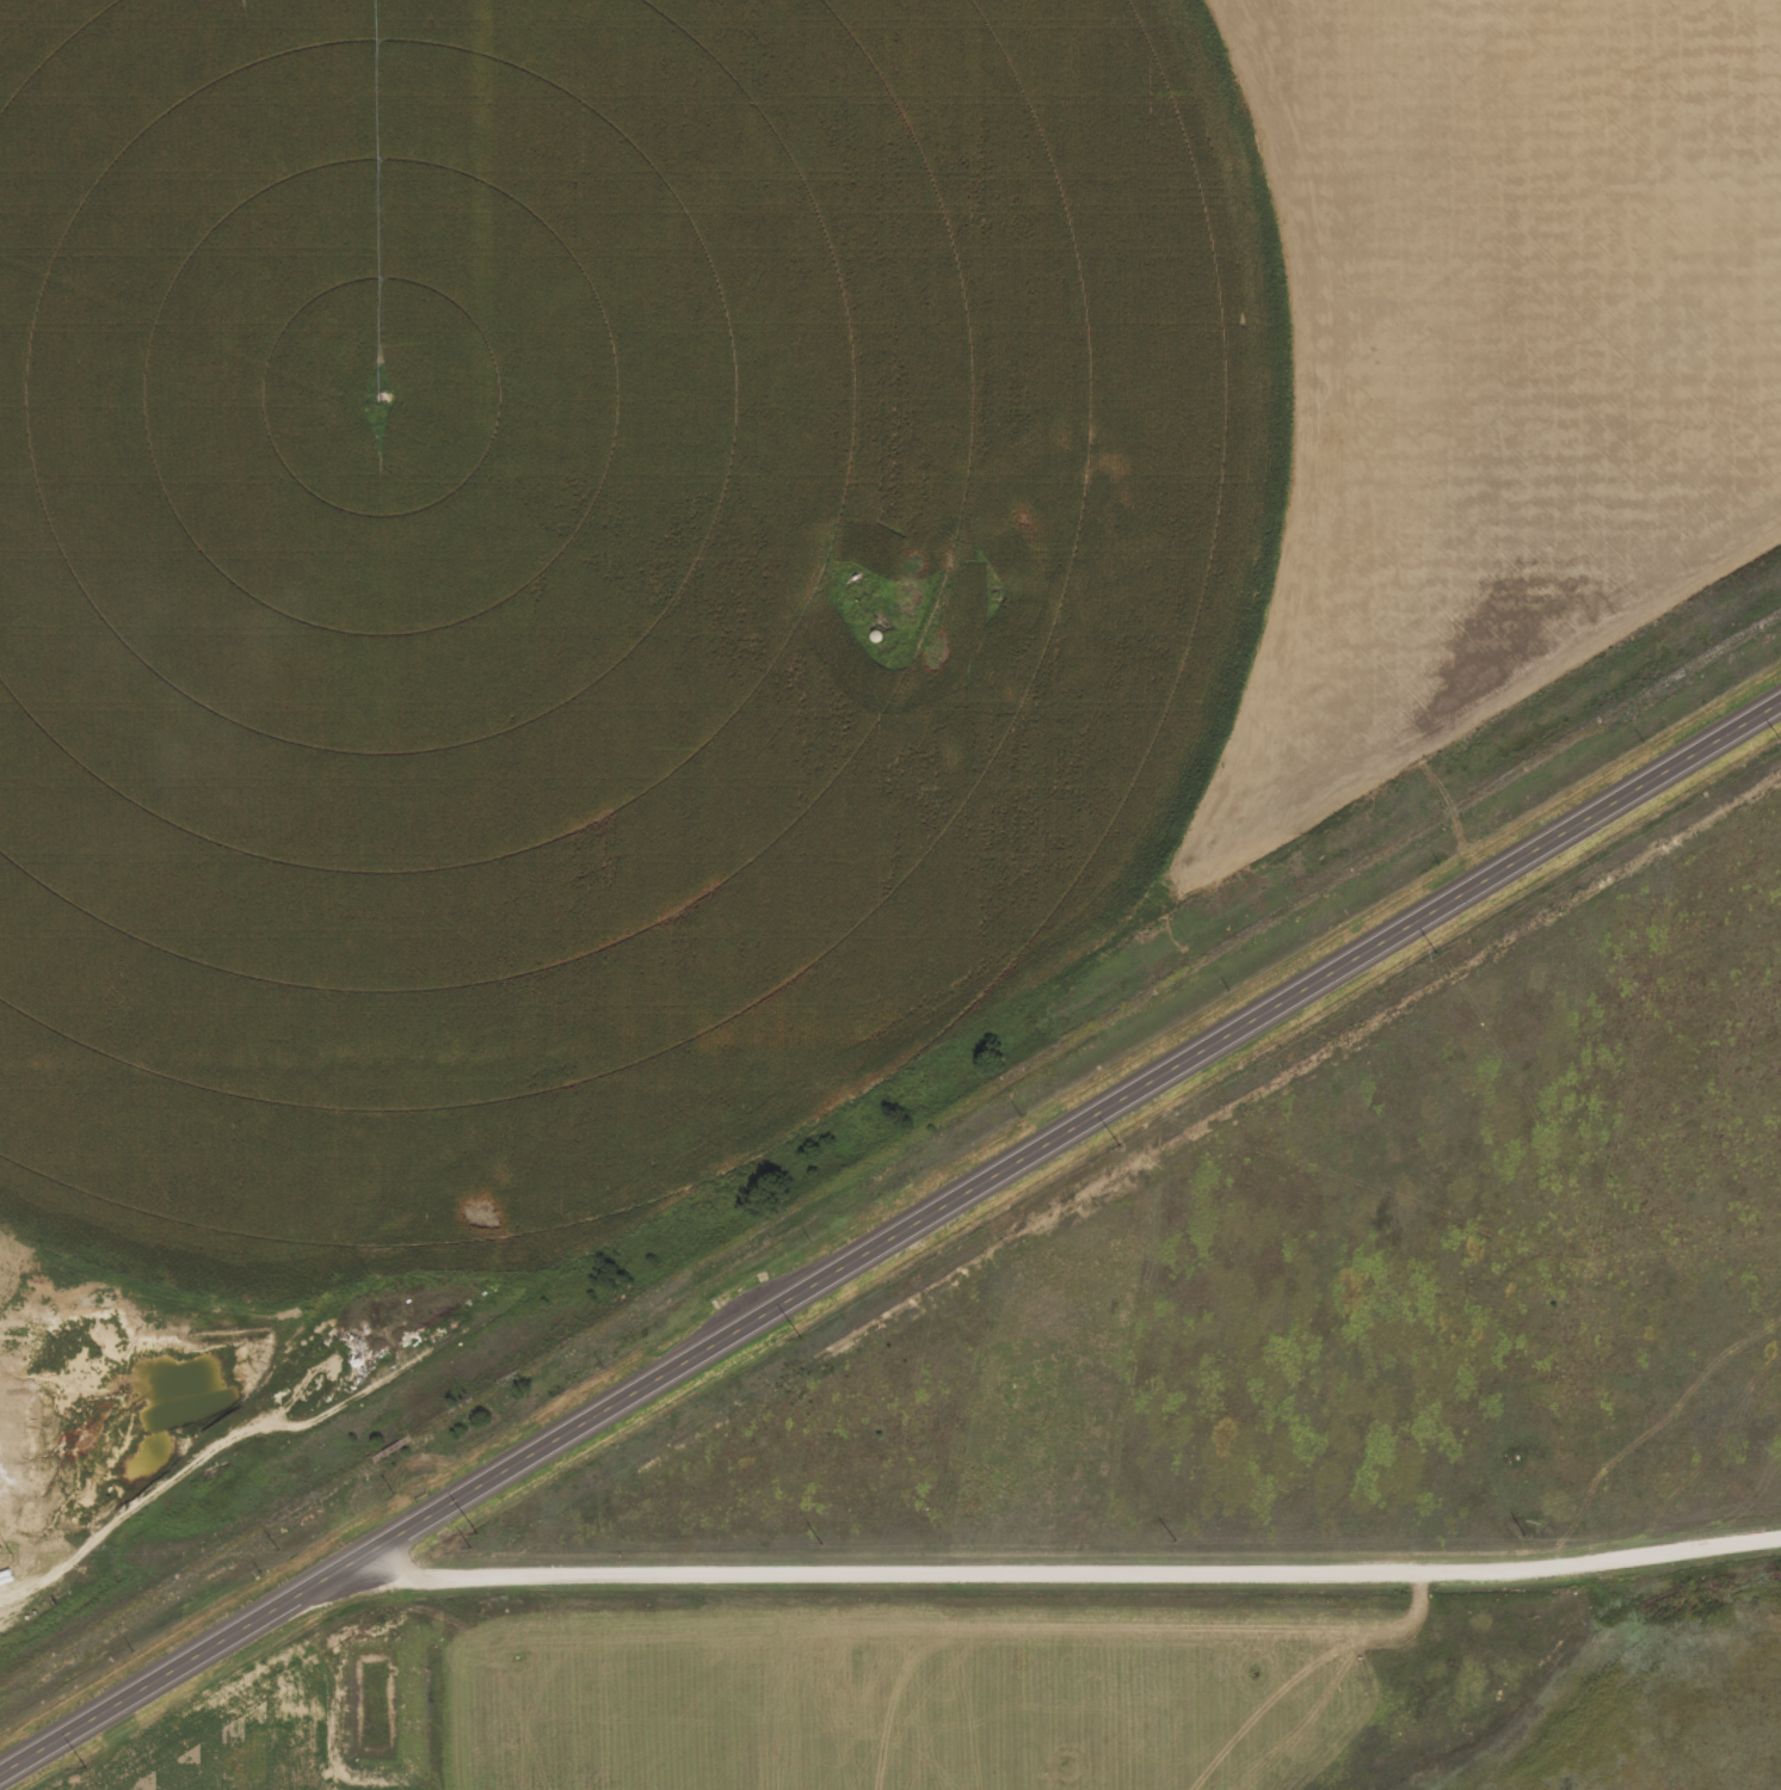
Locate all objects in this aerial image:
power tower: (1780, 742)
power tower: (1431, 952)
power tower: (1118, 1144)
road: (889, 1241)
power tower: (797, 1335)
power tower: (475, 1530)
road: (1065, 1568)
power tower: (82, 1767)

